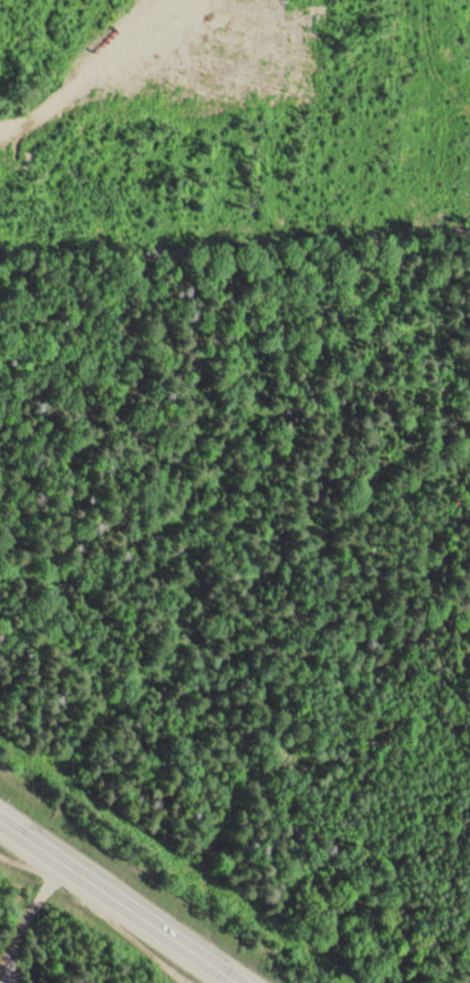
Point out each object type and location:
road: (122, 898)
road: (31, 899)

